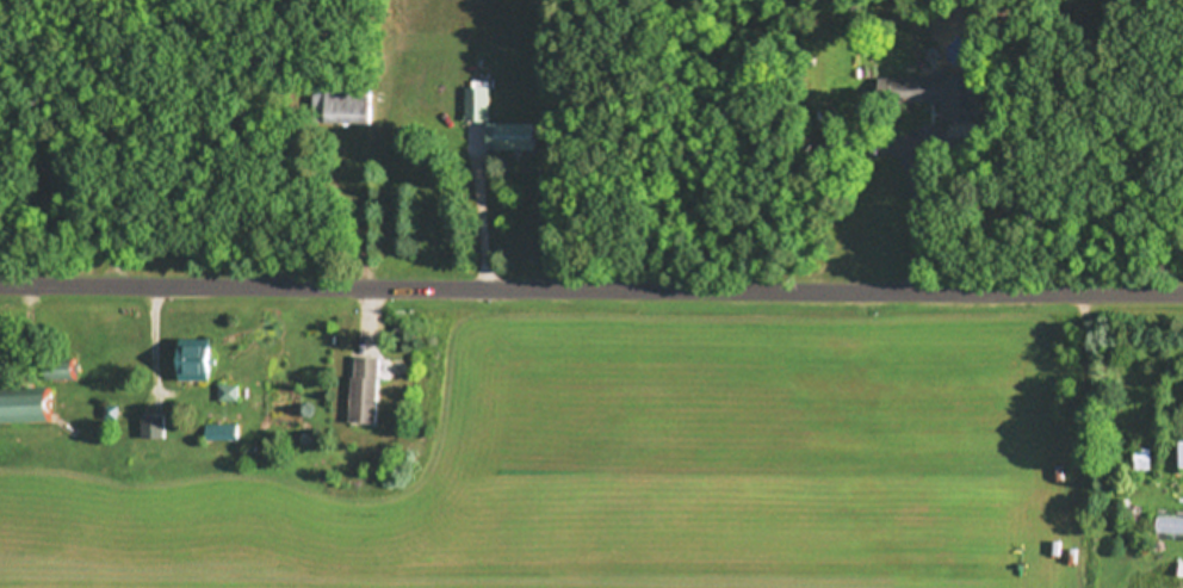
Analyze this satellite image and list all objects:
building: (909, 91)
building: (343, 106)
building: (513, 137)
road: (915, 225)
road: (484, 230)
road: (364, 277)
road: (590, 290)
road: (155, 330)
building: (192, 361)
building: (55, 370)
building: (361, 391)
building: (23, 408)
building: (150, 427)
building: (218, 434)
building: (1179, 454)
building: (1169, 526)

